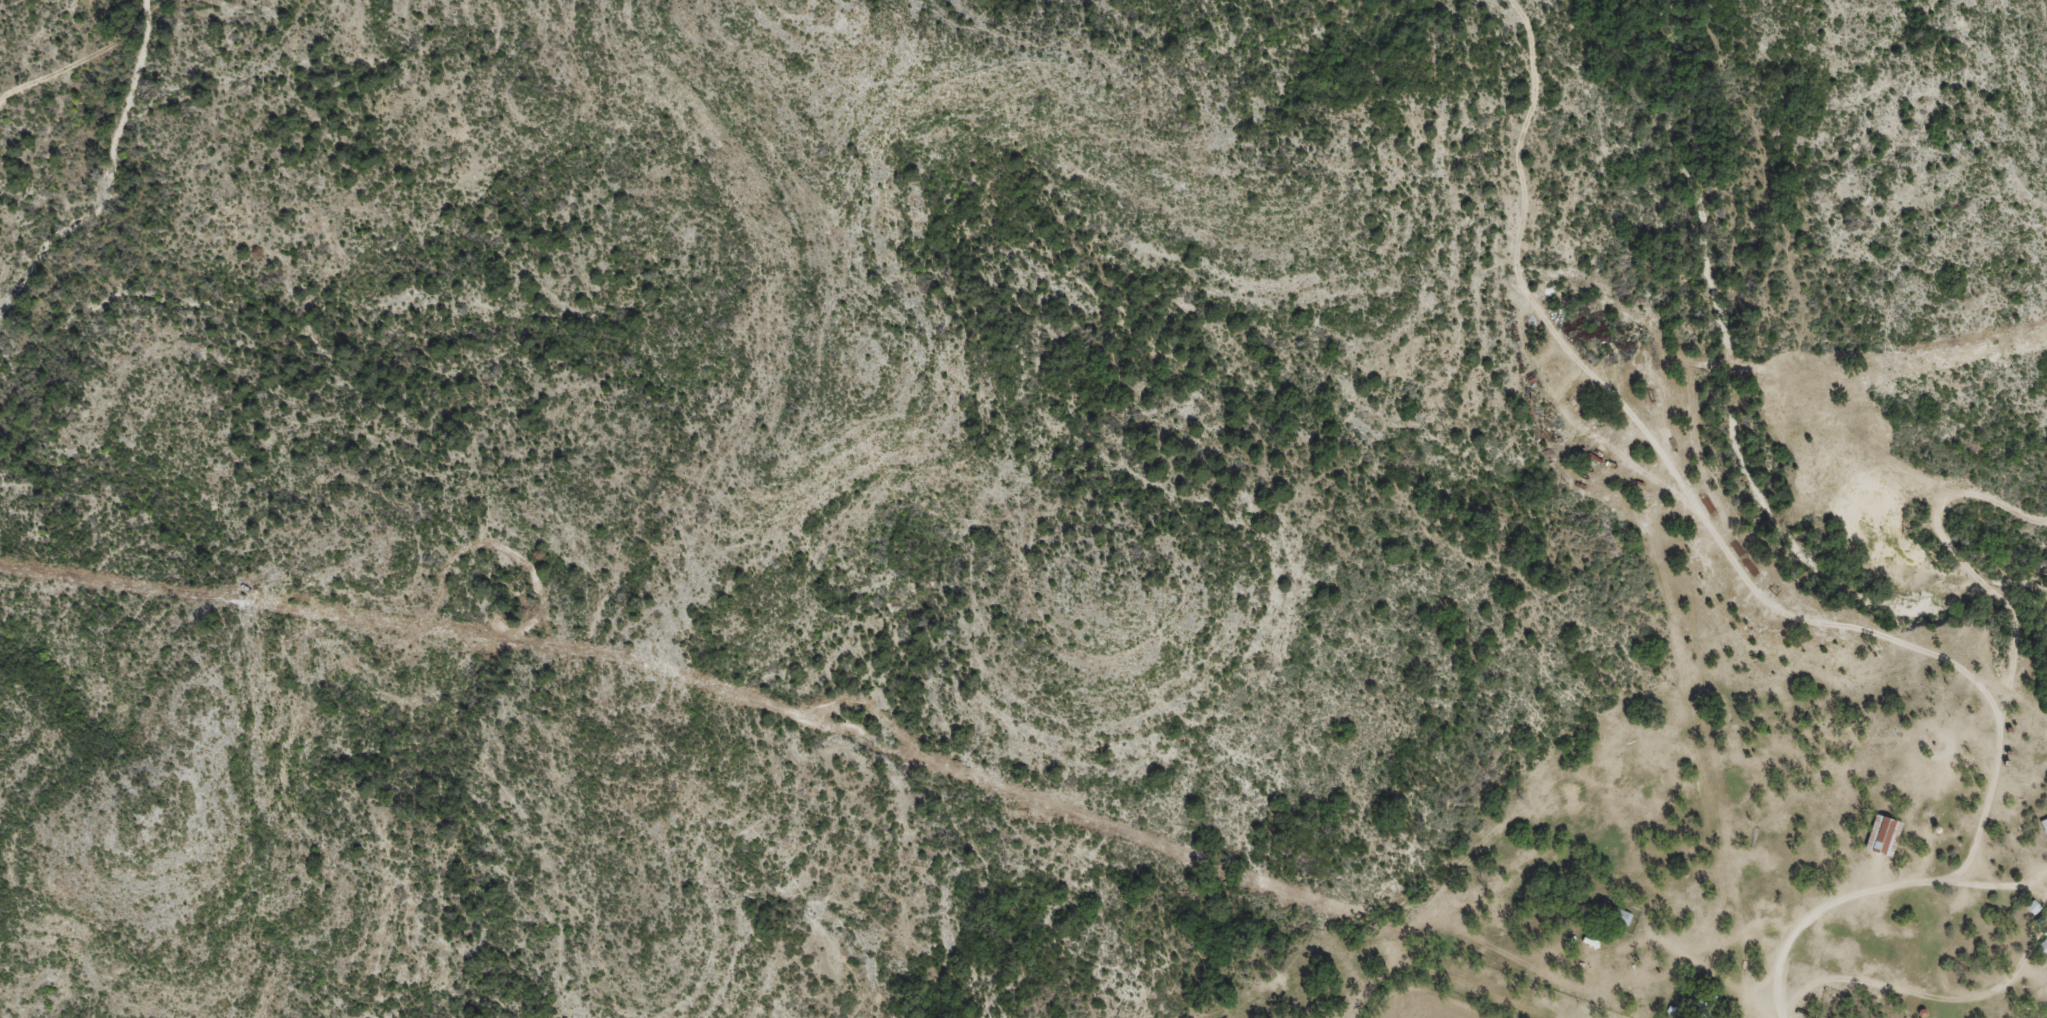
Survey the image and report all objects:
road: (79, 61)
road: (1636, 420)
road: (1994, 743)
building: (2043, 826)
building: (1881, 837)
building: (1618, 917)
building: (2042, 948)
building: (1700, 1002)

